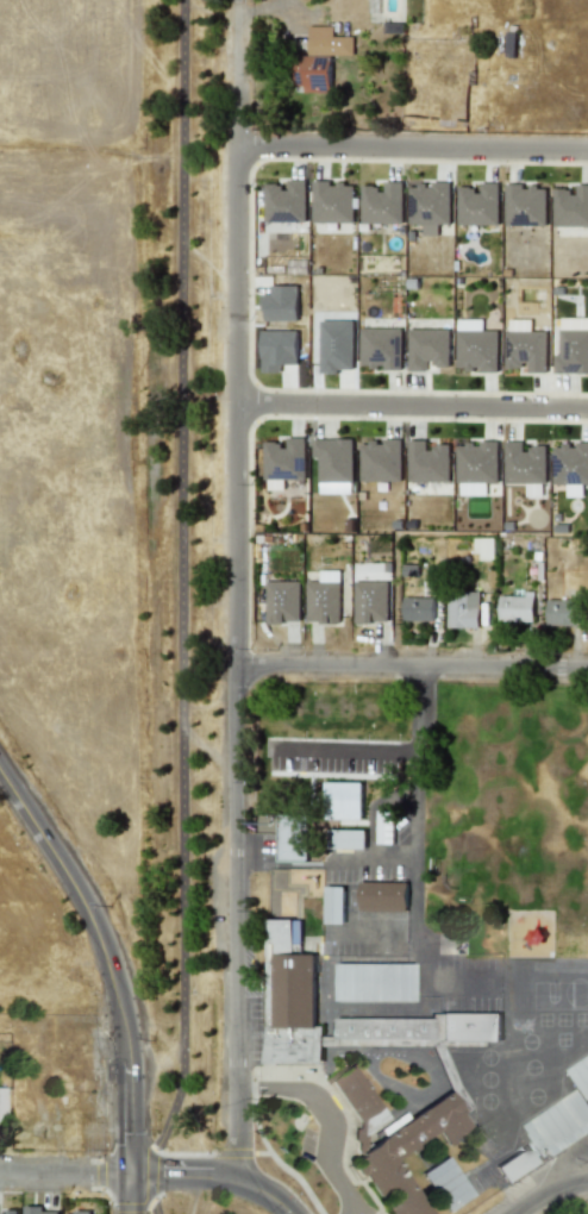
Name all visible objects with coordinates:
road: (236, 4)
building: (319, 58)
road: (412, 149)
building: (284, 200)
building: (331, 201)
building: (381, 202)
building: (478, 205)
building: (525, 205)
building: (429, 206)
building: (571, 206)
building: (280, 303)
building: (336, 345)
building: (475, 345)
building: (524, 345)
building: (573, 346)
building: (380, 348)
building: (427, 348)
building: (277, 349)
road: (412, 406)
building: (284, 458)
building: (333, 458)
building: (380, 459)
building: (427, 462)
building: (475, 465)
building: (570, 465)
building: (525, 467)
building: (483, 549)
road: (236, 593)
building: (323, 597)
building: (282, 601)
building: (369, 601)
building: (514, 607)
building: (417, 608)
building: (462, 608)
road: (182, 609)
building: (562, 612)
road: (411, 668)
road: (343, 750)
building: (342, 800)
building: (293, 837)
road: (414, 837)
building: (346, 838)
road: (373, 862)
building: (382, 895)
building: (333, 905)
road: (102, 959)
building: (373, 981)
building: (289, 996)
building: (419, 1028)
building: (581, 1075)
building: (357, 1103)
building: (1, 1106)
road: (334, 1115)
building: (559, 1122)
building: (377, 1153)
road: (571, 1158)
road: (61, 1174)
road: (212, 1178)
building: (445, 1183)
road: (123, 1194)
road: (556, 1195)
building: (37, 1210)
building: (8, 1213)
building: (77, 1213)

